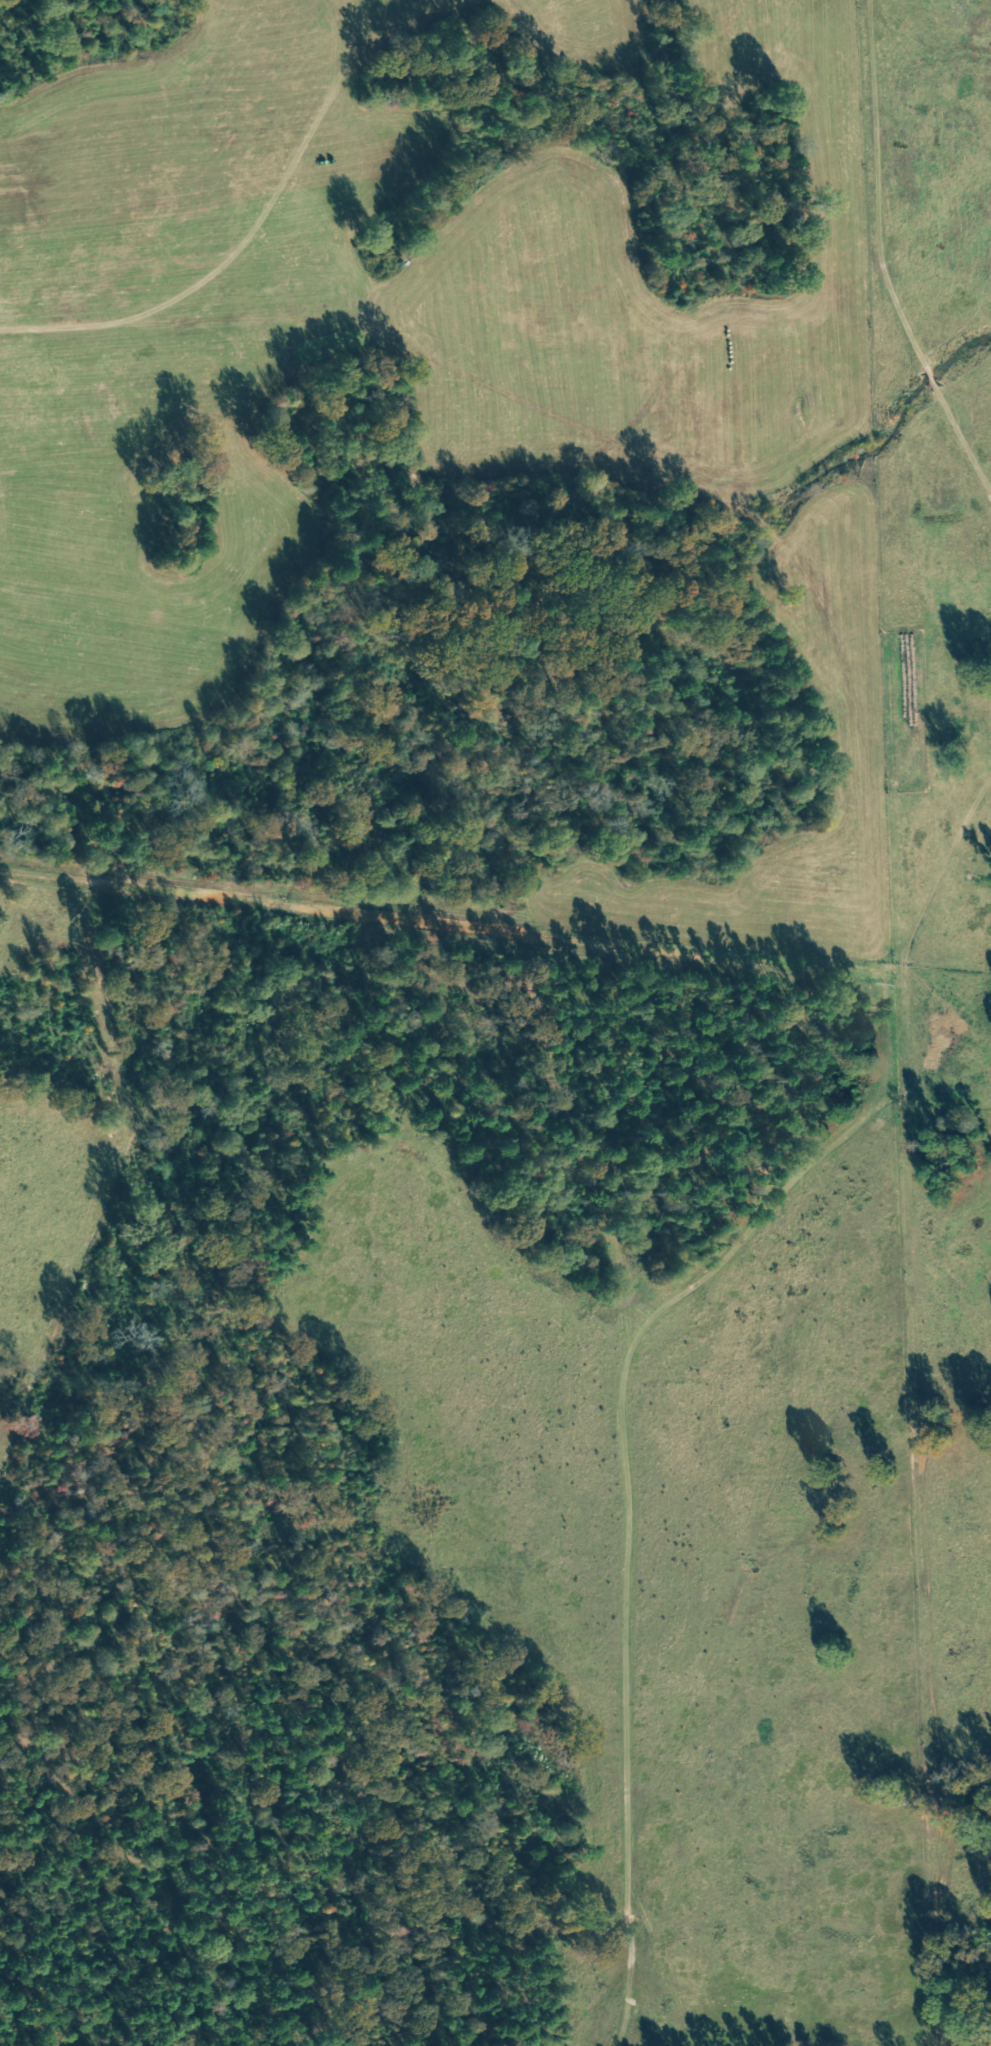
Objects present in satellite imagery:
road: (258, 211)

